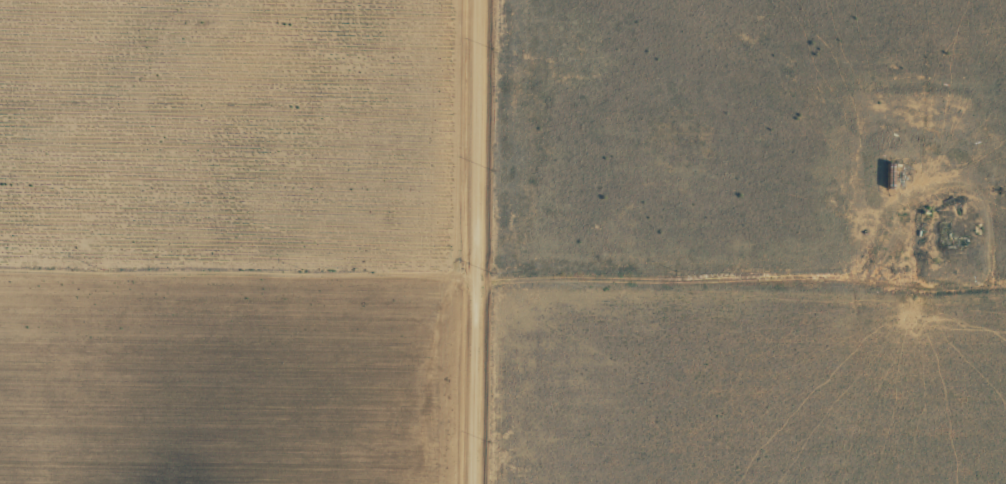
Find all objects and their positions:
road: (461, 241)
road: (503, 289)

